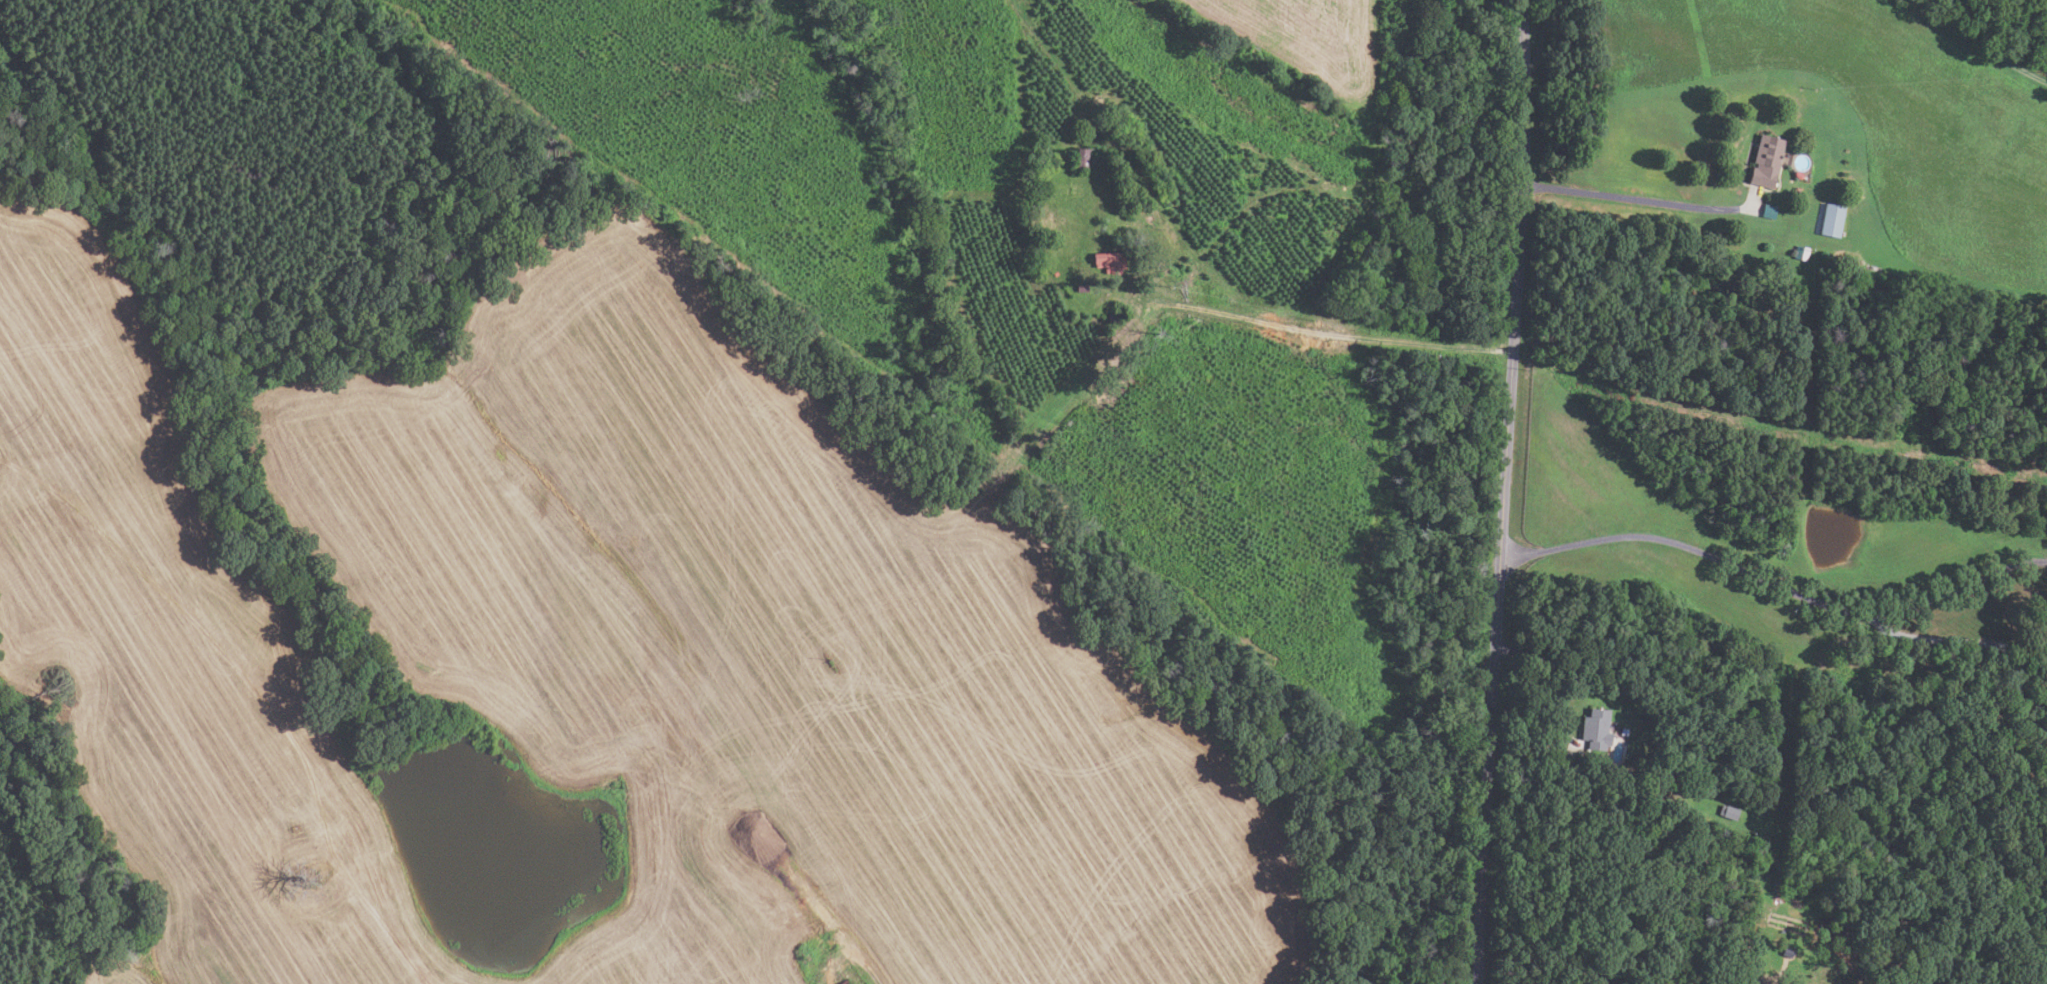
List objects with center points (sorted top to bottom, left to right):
road: (1537, 37)
road: (1979, 43)
crop: (1305, 46)
crop: (1879, 120)
building: (1078, 157)
building: (1766, 160)
road: (1630, 197)
building: (1769, 211)
building: (1831, 219)
building: (1800, 252)
building: (1109, 261)
building: (1055, 273)
building: (1082, 287)
road: (1304, 330)
road: (1502, 491)
road: (1691, 548)
road: (1961, 585)
road: (1985, 640)
crop: (769, 648)
crop: (172, 656)
road: (1560, 677)
road: (285, 691)
building: (1596, 729)
building: (1683, 811)
building: (1728, 811)
building: (845, 982)

